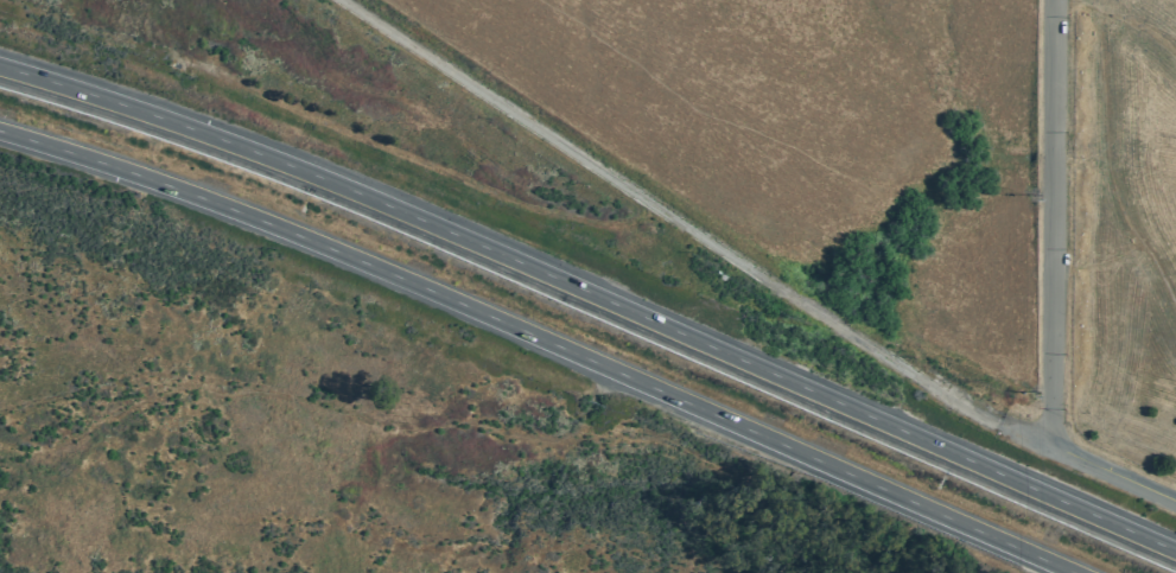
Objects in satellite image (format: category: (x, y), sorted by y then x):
road: (1076, 6)
road: (1142, 25)
road: (1108, 165)
road: (665, 215)
road: (1053, 225)
park: (1125, 228)
road: (1096, 261)
road: (1068, 274)
road: (593, 297)
road: (540, 342)
road: (375, 419)
road: (1087, 466)

